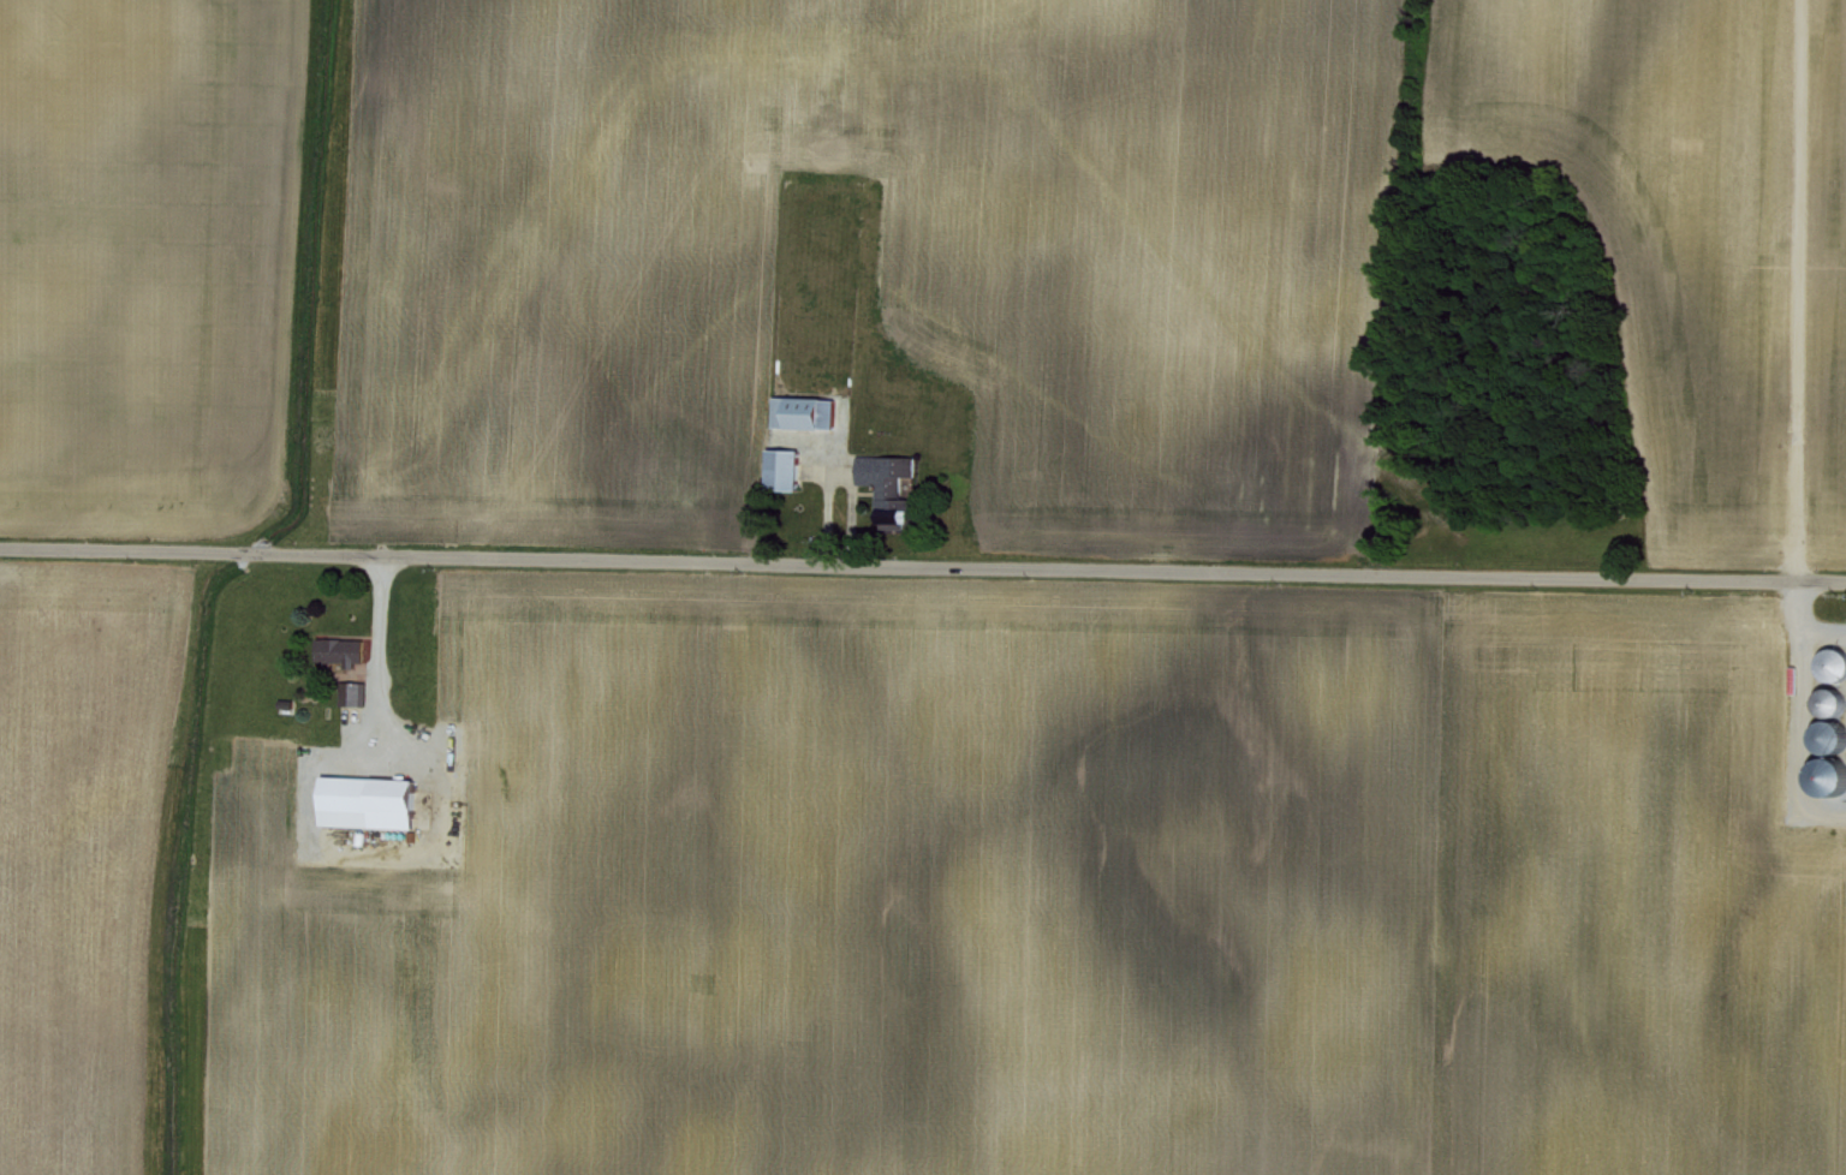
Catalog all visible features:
building: (800, 410)
building: (779, 466)
building: (882, 477)
road: (823, 488)
road: (922, 572)
road: (1800, 626)
road: (371, 648)
building: (337, 649)
building: (350, 691)
road: (1799, 738)
building: (362, 800)

